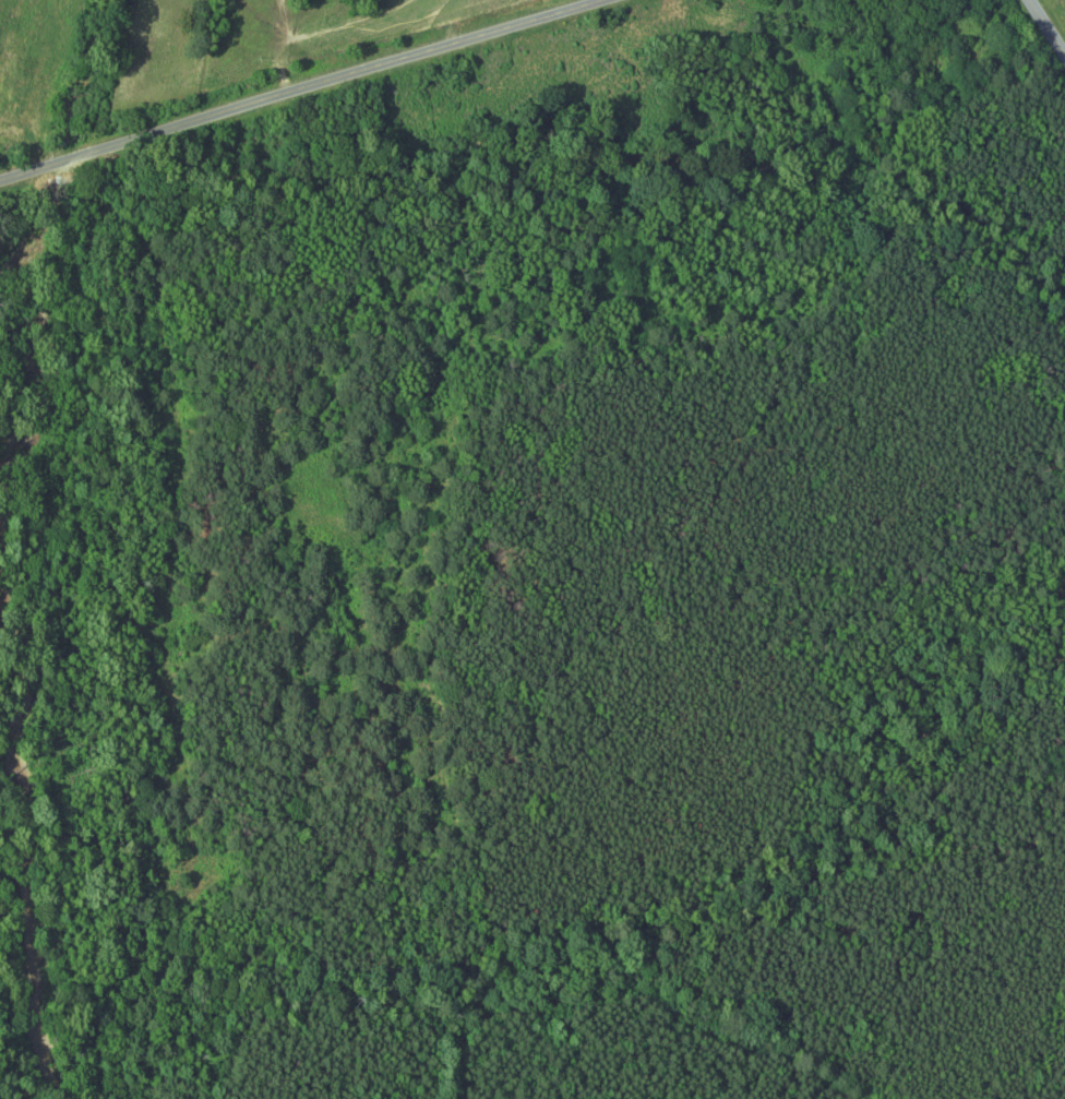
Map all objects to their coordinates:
road: (1048, 26)
road: (299, 89)

